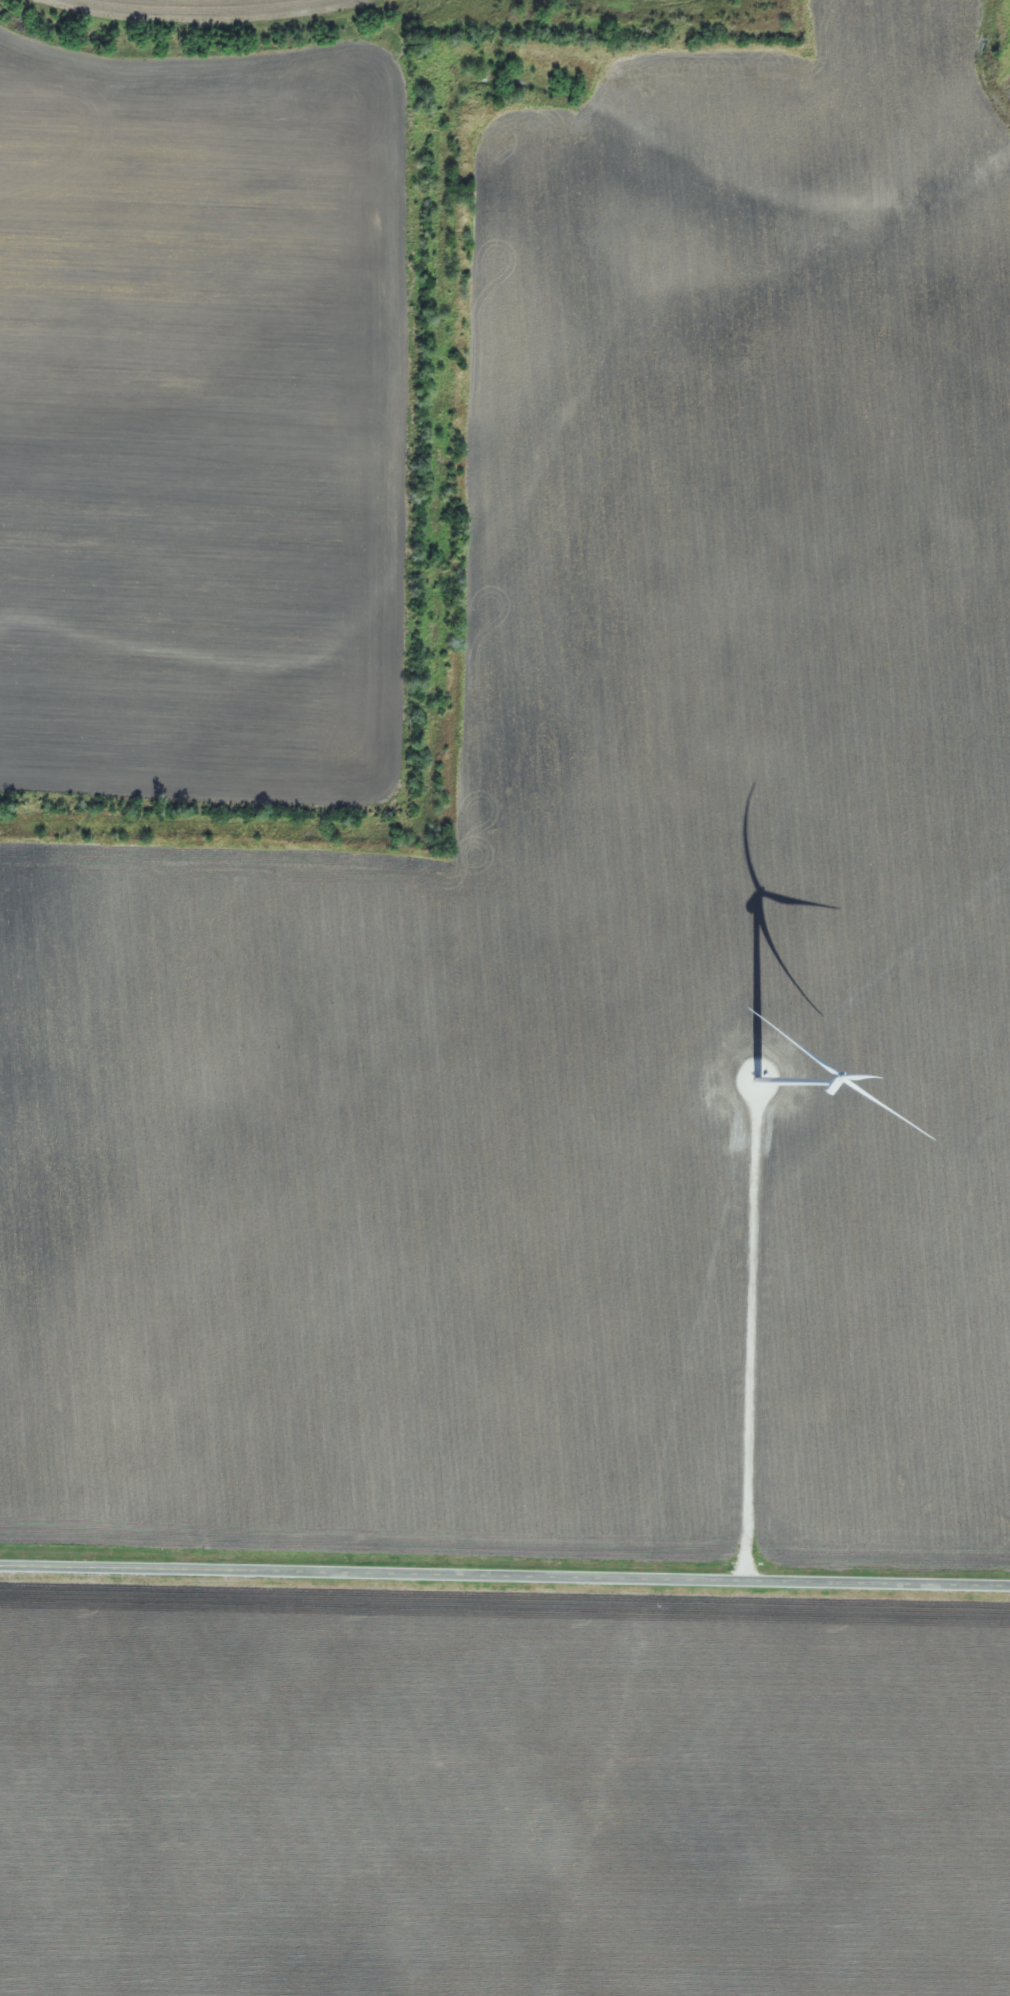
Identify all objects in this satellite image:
wind turbine: (755, 1080)
road: (505, 1576)

